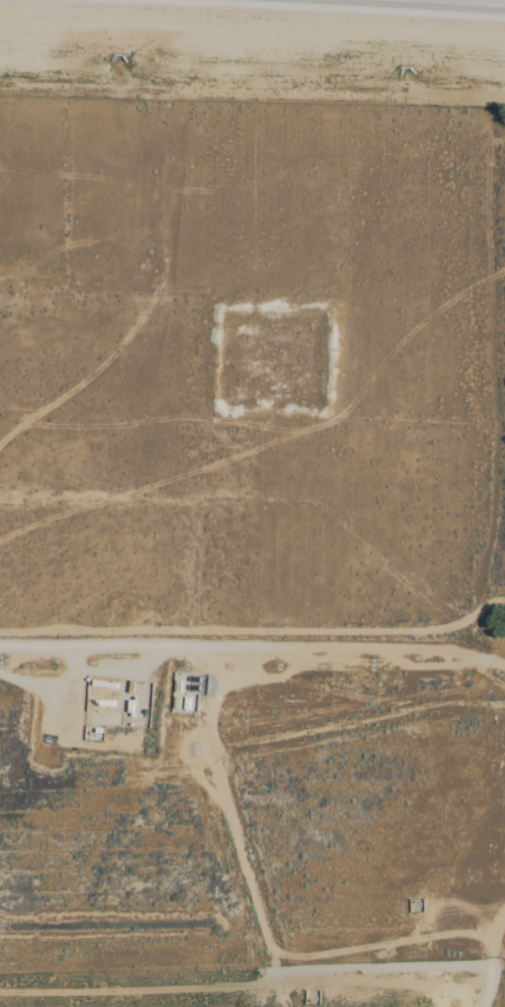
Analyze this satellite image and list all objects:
road: (442, 4)
road: (68, 664)
crop: (200, 1002)

